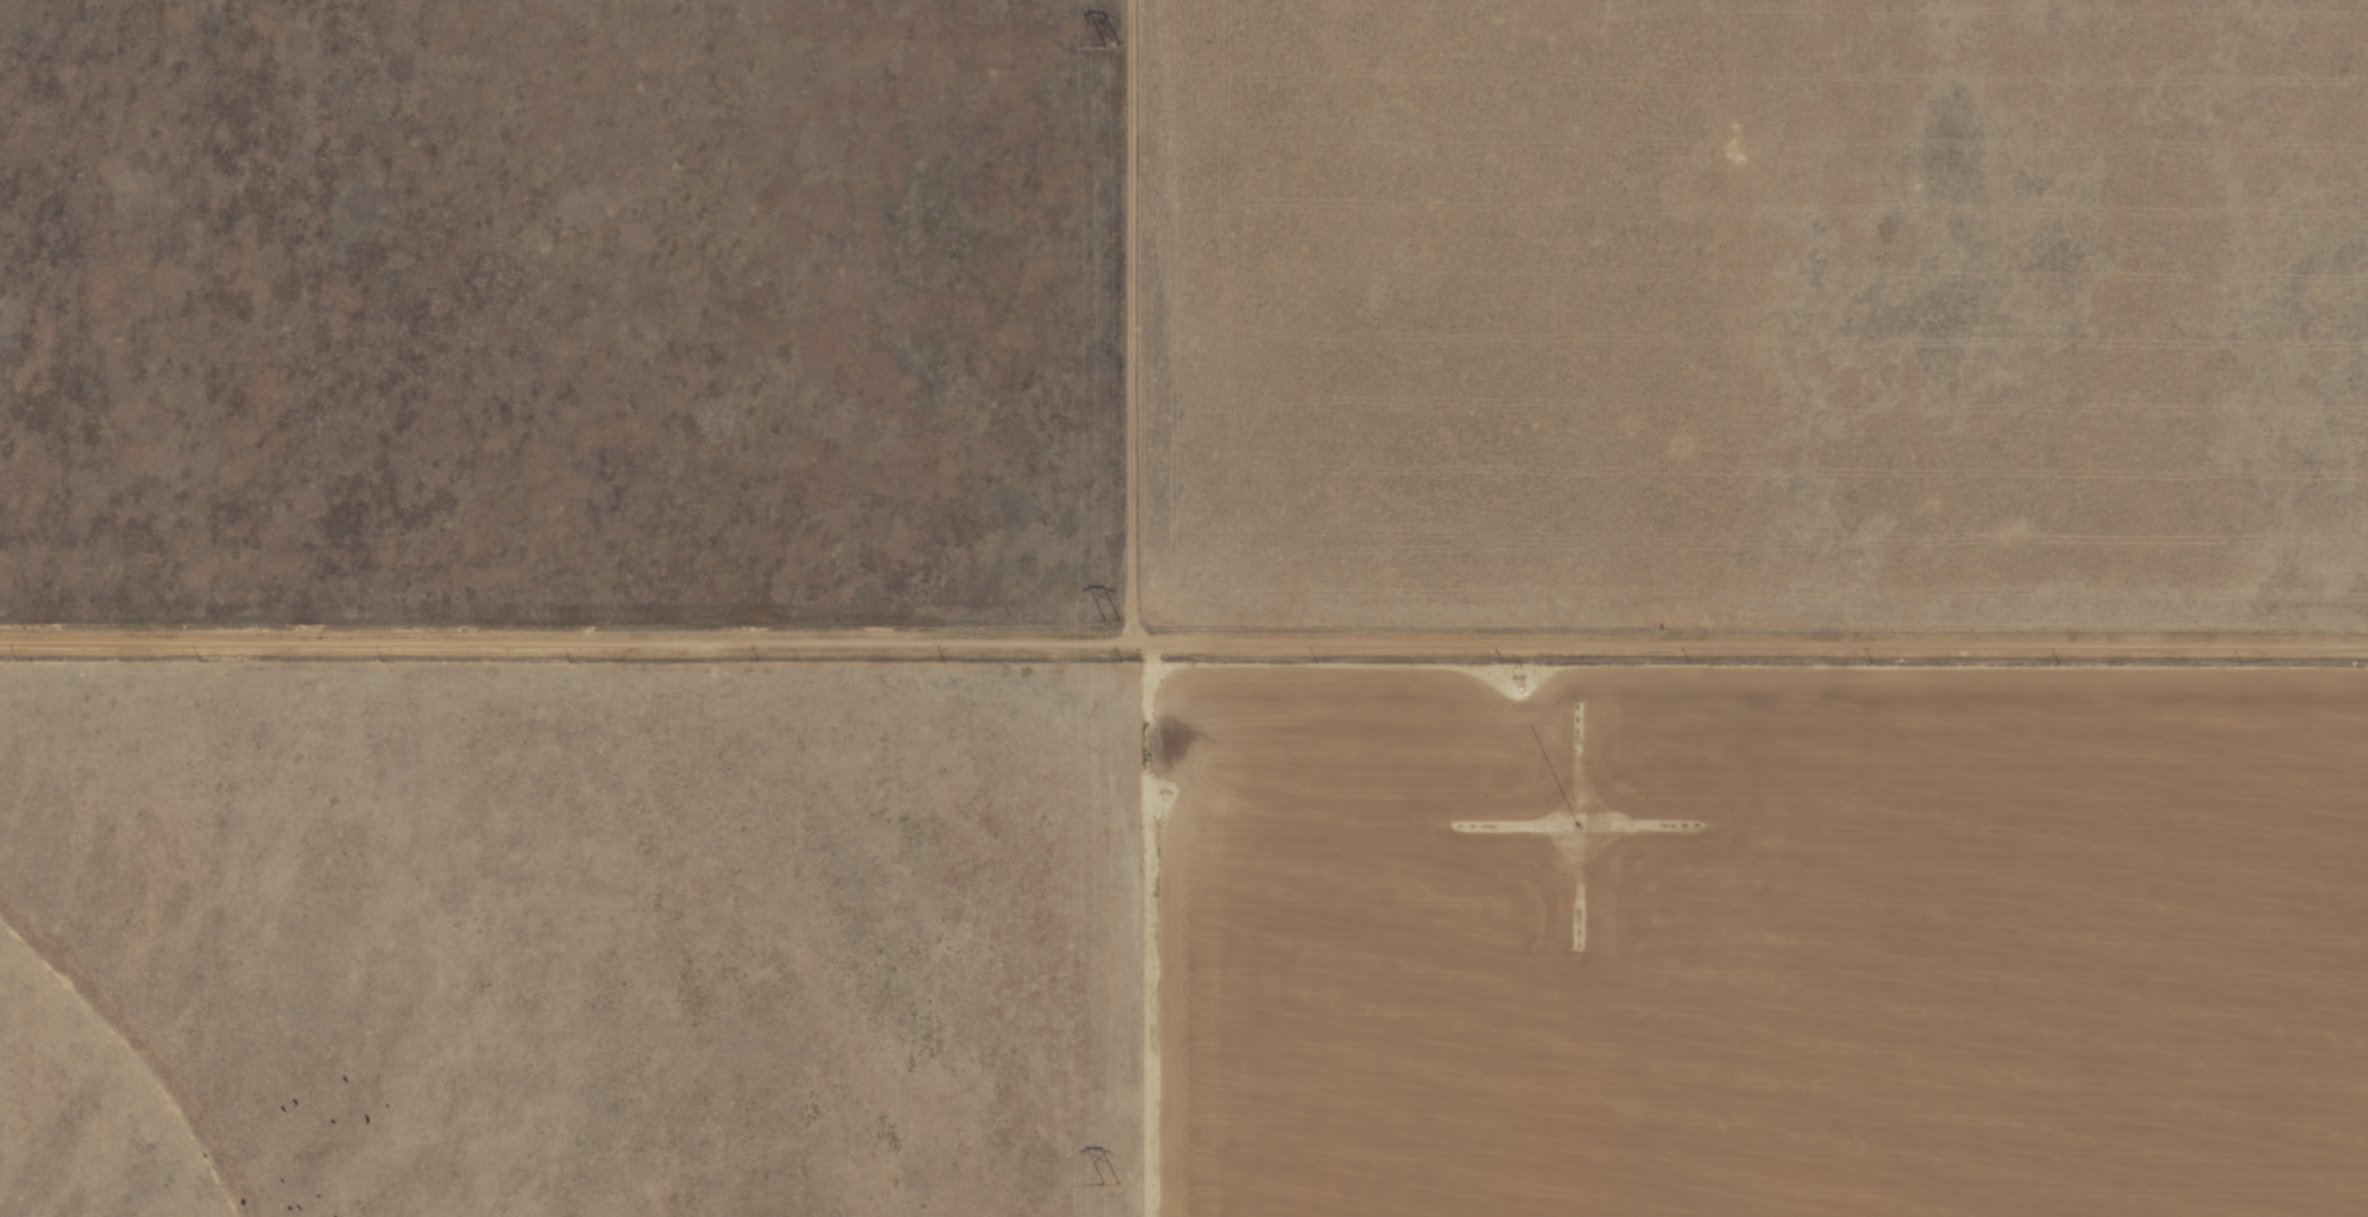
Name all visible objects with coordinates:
power tower: (1113, 45)
road: (1136, 608)
power tower: (1109, 625)
road: (1184, 644)
power tower: (1111, 1183)

